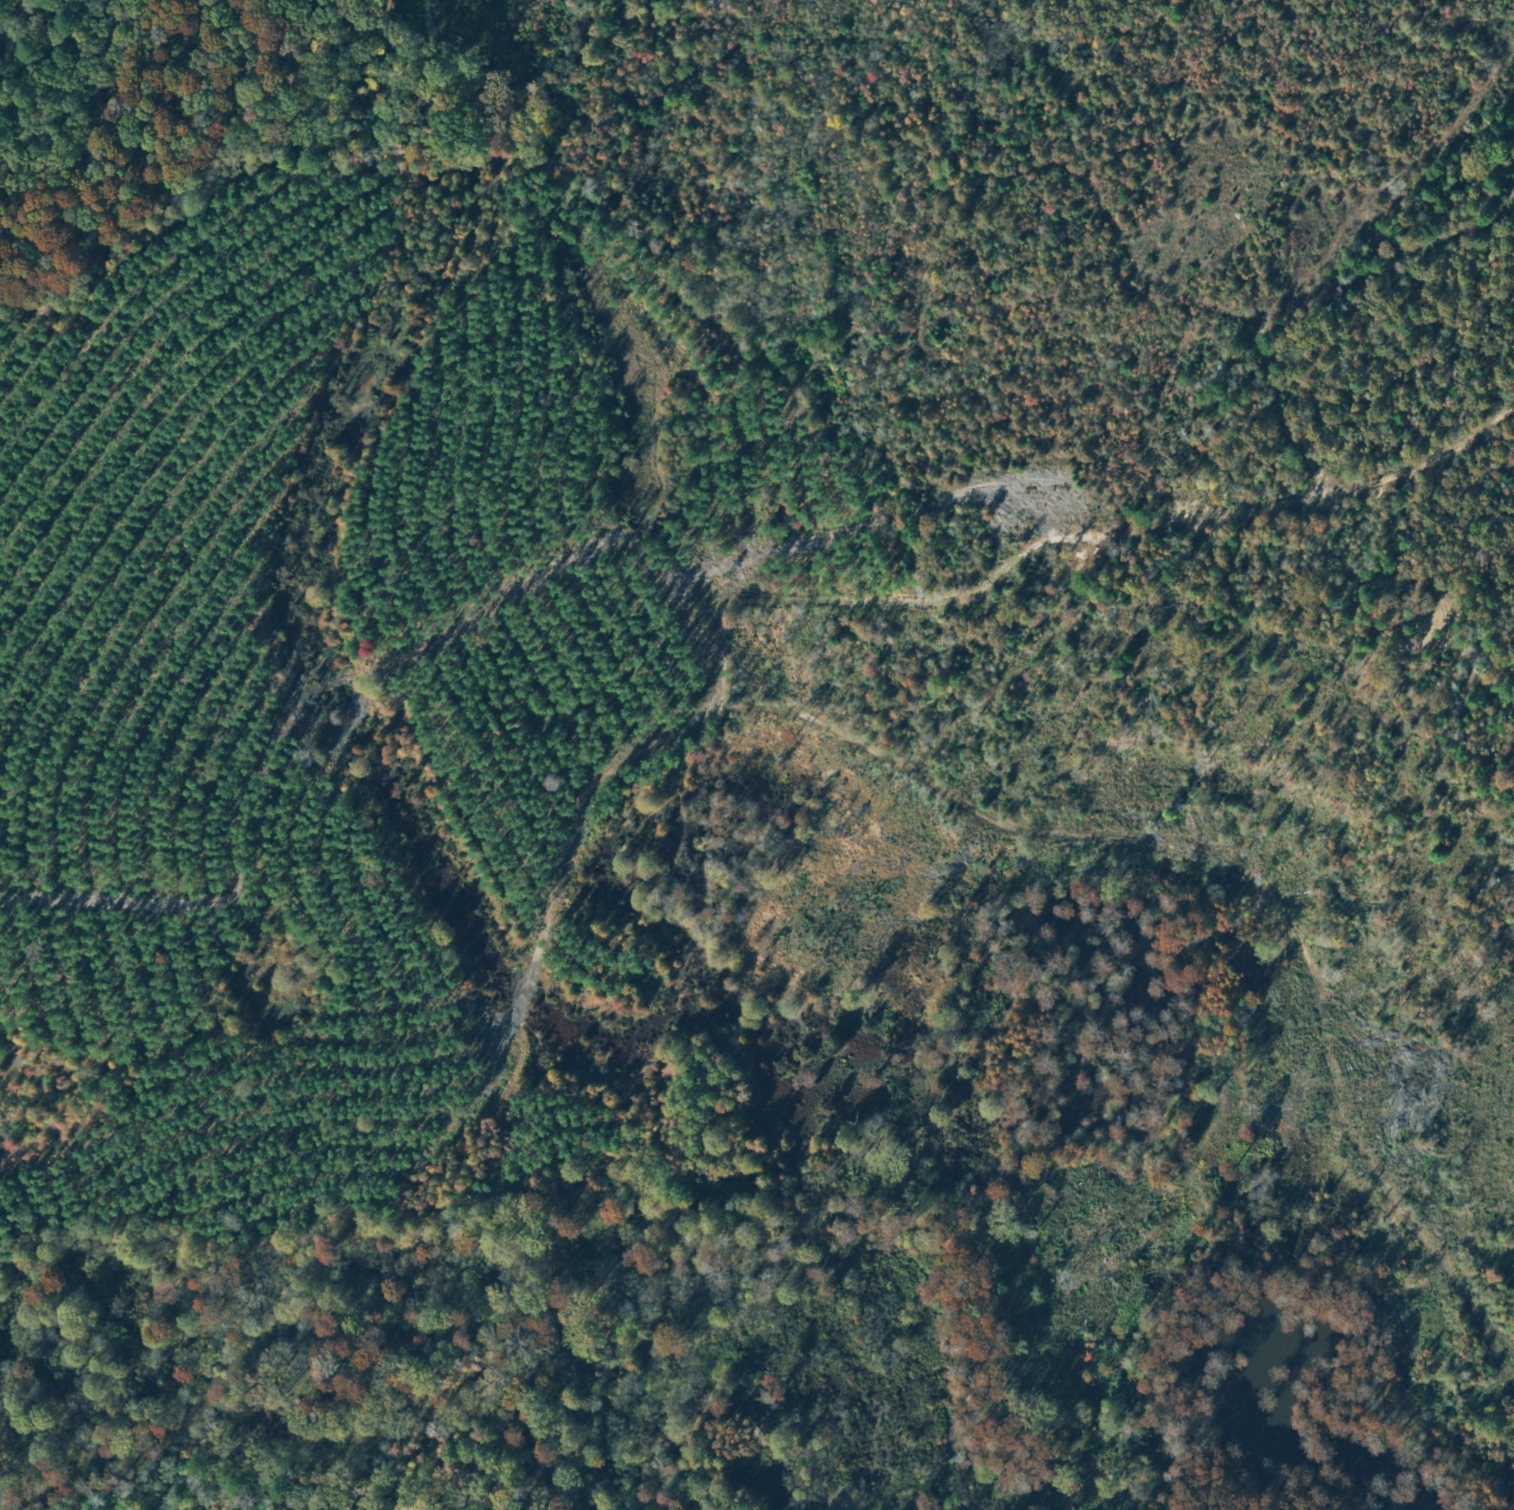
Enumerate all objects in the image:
river: (374, 1332)

